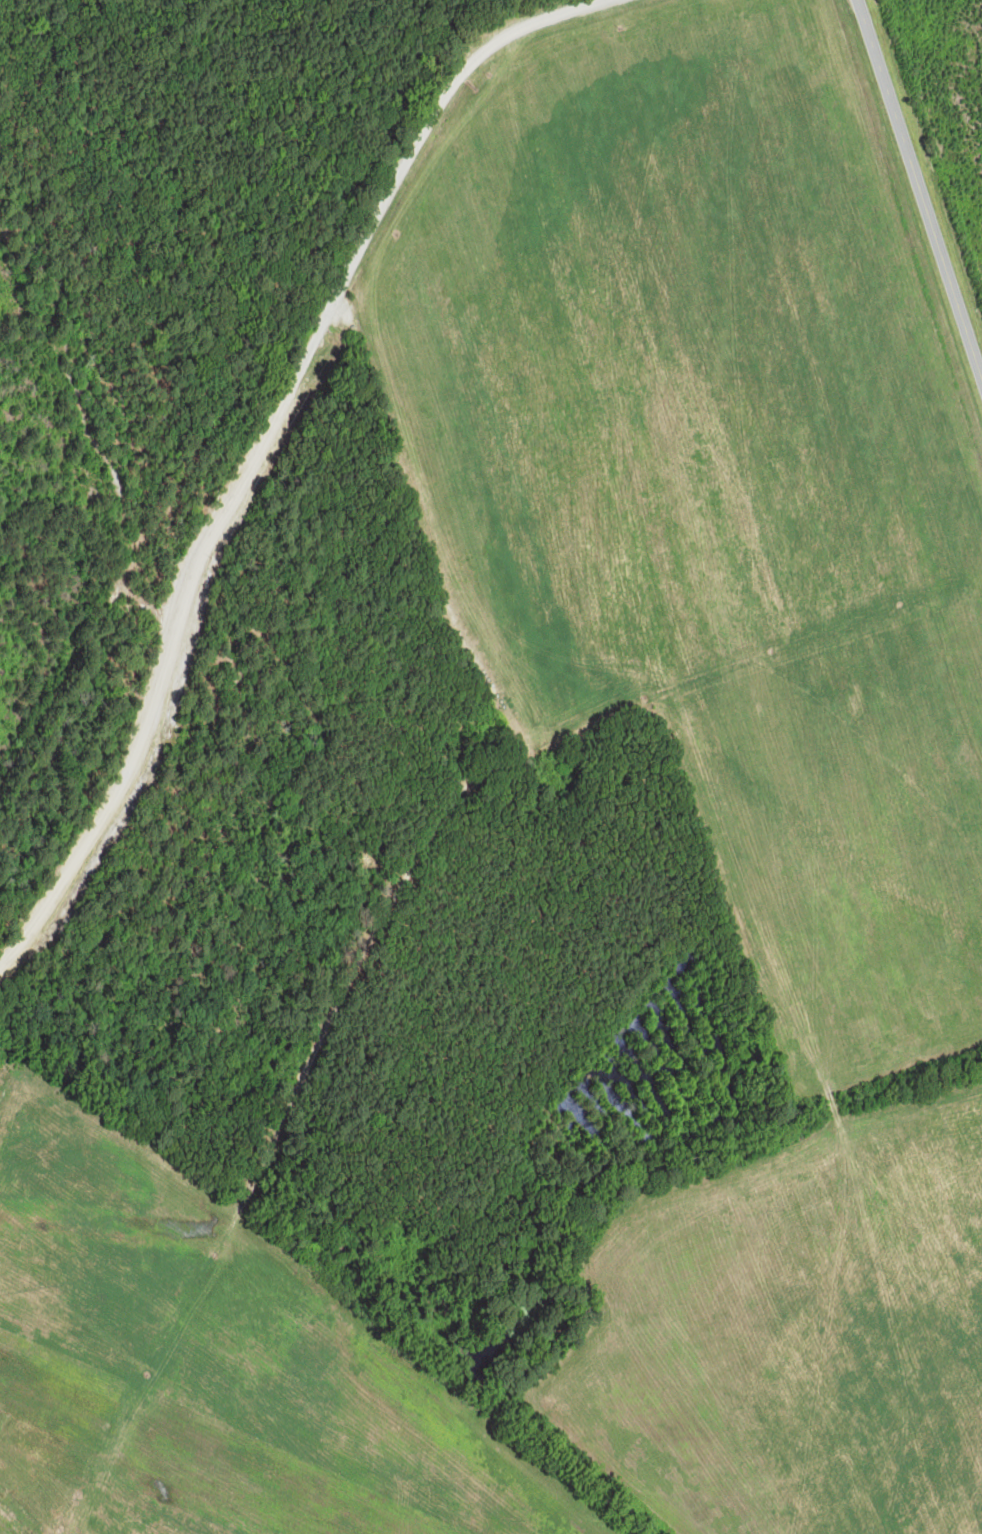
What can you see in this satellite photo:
road: (920, 188)
road: (261, 444)

